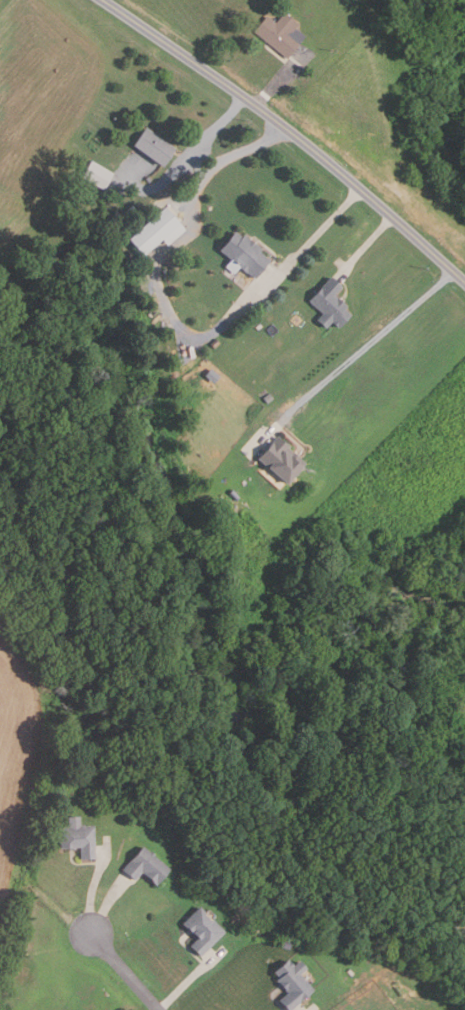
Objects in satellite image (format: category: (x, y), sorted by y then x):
building: (277, 33)
road: (279, 79)
road: (289, 133)
road: (200, 141)
building: (151, 145)
road: (195, 167)
building: (93, 174)
building: (151, 231)
road: (365, 246)
building: (241, 253)
building: (326, 304)
road: (175, 318)
road: (366, 346)
building: (267, 398)
building: (277, 460)
building: (232, 494)
building: (114, 770)
building: (76, 837)
building: (143, 866)
road: (95, 885)
road: (106, 903)
building: (198, 929)
building: (283, 944)
road: (126, 971)
road: (188, 981)
building: (290, 982)
road: (306, 1009)

